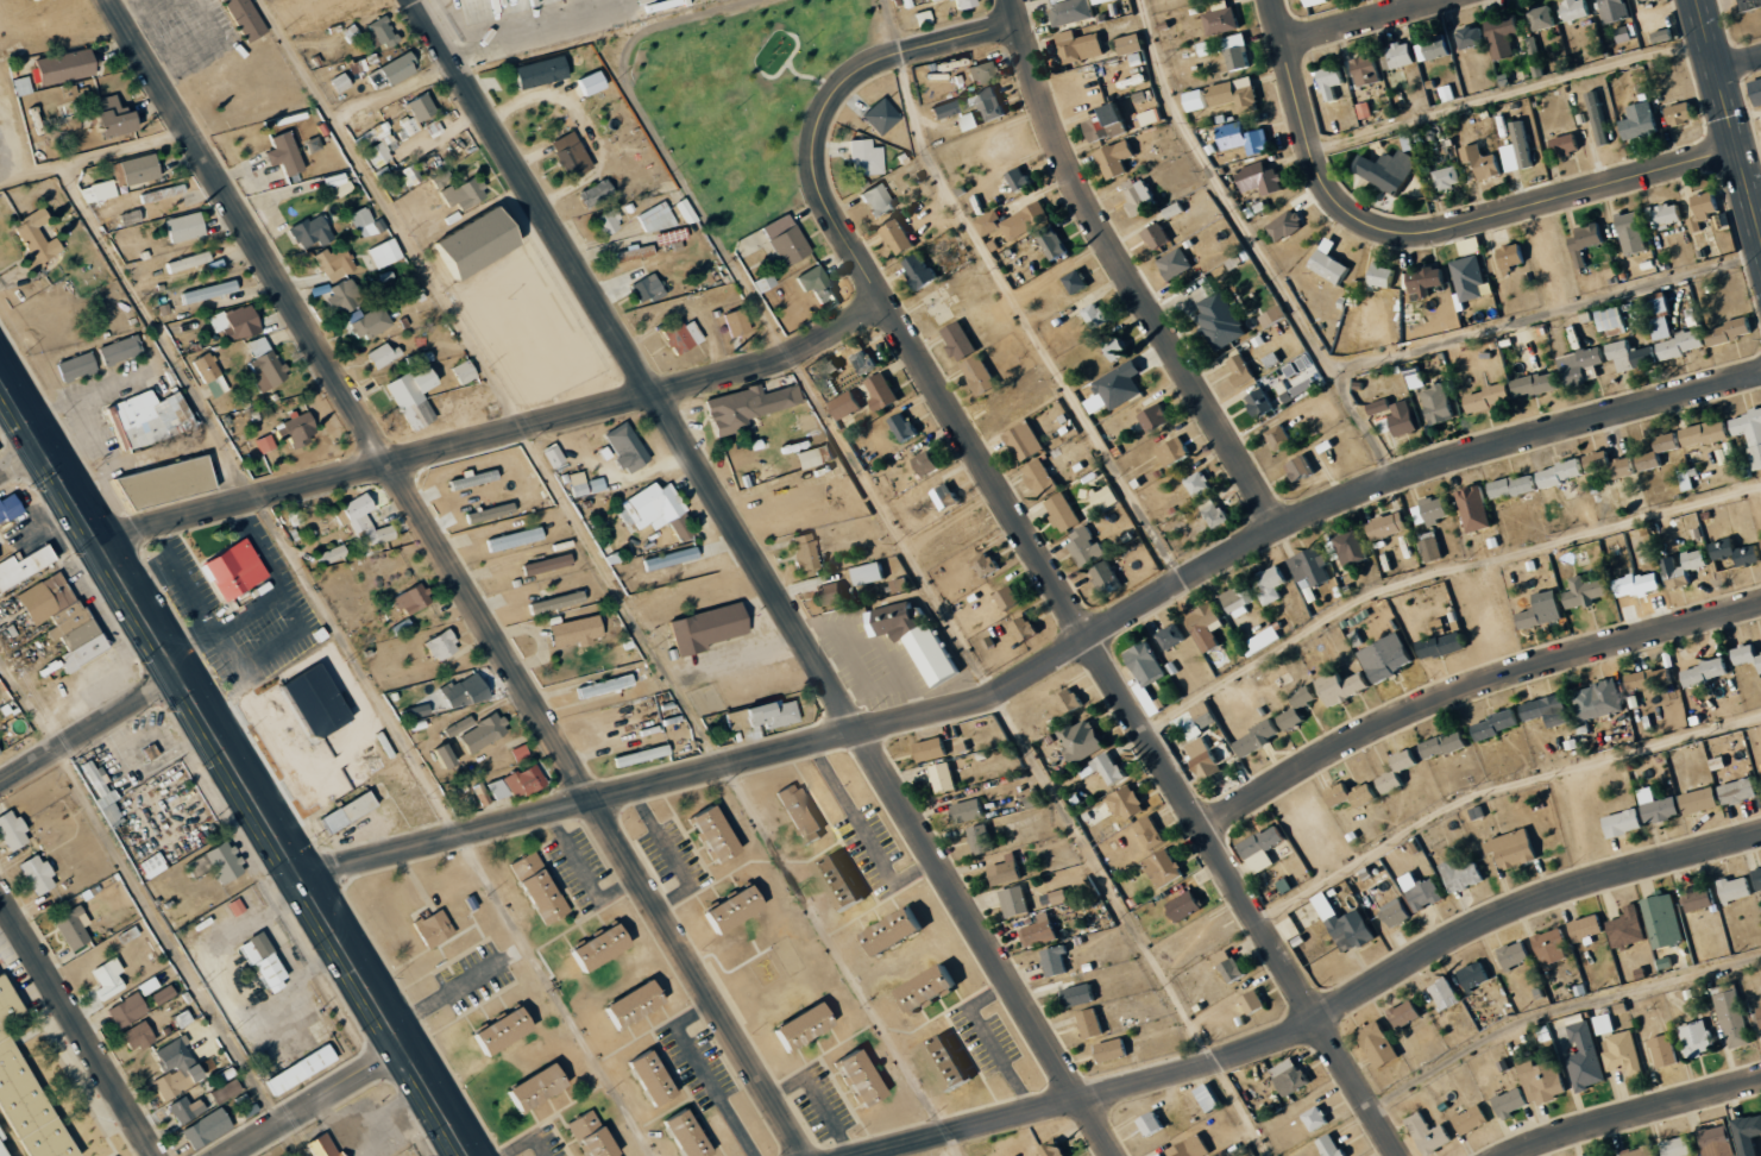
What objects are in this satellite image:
building: (36, 0)
building: (935, 0)
building: (540, 1)
building: (1103, 1)
building: (1646, 1)
building: (1317, 2)
building: (966, 4)
building: (1750, 5)
road: (610, 6)
building: (484, 8)
building: (1577, 10)
building: (1070, 11)
building: (1616, 11)
building: (923, 18)
building: (1222, 18)
building: (1543, 18)
building: (244, 19)
road: (1276, 21)
road: (1359, 21)
building: (383, 32)
building: (1627, 32)
road: (524, 34)
building: (1665, 34)
building: (1472, 37)
building: (1505, 37)
building: (1132, 44)
building: (1080, 46)
building: (1533, 46)
building: (1206, 49)
building: (1435, 49)
building: (1238, 52)
building: (1404, 55)
road: (1738, 61)
building: (65, 67)
building: (398, 68)
building: (1369, 70)
building: (541, 73)
building: (981, 73)
building: (1334, 81)
building: (340, 82)
building: (592, 83)
building: (1755, 88)
building: (1237, 94)
park: (737, 96)
building: (1145, 96)
building: (1197, 100)
building: (988, 103)
building: (422, 108)
building: (944, 111)
building: (1366, 111)
building: (1683, 114)
road: (1729, 115)
building: (114, 117)
building: (881, 117)
building: (1151, 117)
building: (1599, 119)
building: (1642, 121)
building: (1107, 124)
building: (408, 126)
building: (1612, 127)
building: (1245, 138)
building: (313, 144)
building: (377, 144)
building: (1523, 145)
building: (1567, 145)
building: (284, 153)
building: (571, 156)
building: (864, 158)
building: (1117, 159)
building: (1483, 162)
building: (136, 170)
building: (1389, 170)
building: (410, 175)
building: (441, 178)
building: (1263, 178)
building: (1449, 178)
building: (1020, 180)
building: (339, 183)
building: (99, 191)
building: (596, 193)
building: (464, 194)
building: (1141, 197)
building: (181, 201)
building: (878, 201)
building: (1705, 211)
building: (1671, 215)
building: (130, 218)
building: (655, 218)
building: (364, 221)
building: (1027, 221)
building: (608, 222)
building: (990, 224)
road: (1454, 225)
building: (1287, 226)
building: (185, 227)
building: (310, 232)
building: (1634, 233)
building: (1158, 237)
building: (667, 238)
building: (899, 238)
building: (37, 239)
building: (786, 240)
building: (479, 243)
building: (1587, 243)
road: (1252, 244)
building: (1056, 246)
building: (384, 253)
building: (634, 253)
building: (1512, 257)
building: (189, 262)
building: (334, 263)
building: (1176, 263)
building: (1331, 263)
building: (920, 271)
road: (1126, 271)
building: (1384, 276)
building: (1471, 278)
building: (1428, 279)
building: (1077, 282)
building: (765, 283)
building: (816, 283)
building: (647, 289)
building: (209, 291)
building: (344, 296)
building: (1660, 304)
building: (1096, 315)
building: (1275, 316)
building: (1612, 319)
building: (1221, 320)
building: (235, 322)
building: (370, 323)
building: (737, 323)
road: (1025, 325)
building: (1662, 328)
building: (1731, 332)
building: (683, 337)
building: (961, 341)
building: (1683, 345)
building: (258, 346)
building: (1119, 350)
building: (120, 351)
building: (383, 354)
building: (1633, 356)
building: (863, 362)
building: (1583, 365)
building: (76, 366)
building: (1301, 367)
building: (1243, 370)
building: (266, 371)
building: (464, 372)
building: (209, 375)
building: (981, 375)
building: (1417, 381)
building: (1537, 384)
building: (1121, 385)
building: (882, 391)
building: (414, 397)
building: (1489, 398)
building: (847, 404)
building: (1440, 404)
building: (748, 407)
building: (1381, 407)
building: (149, 419)
building: (1156, 419)
building: (1398, 420)
building: (904, 427)
building: (297, 429)
building: (1750, 431)
building: (1707, 433)
road: (495, 435)
building: (1281, 438)
building: (1669, 441)
building: (1027, 442)
building: (265, 444)
building: (627, 447)
building: (1175, 452)
building: (553, 456)
building: (812, 457)
building: (1652, 460)
road: (21, 461)
building: (927, 463)
building: (1612, 465)
building: (1301, 470)
building: (1564, 472)
building: (1042, 477)
building: (473, 479)
building: (1686, 479)
building: (168, 483)
building: (578, 483)
building: (1199, 484)
building: (1515, 486)
building: (946, 496)
building: (1106, 500)
building: (10, 505)
building: (650, 507)
building: (1476, 508)
building: (1432, 510)
building: (491, 511)
building: (1064, 513)
building: (1218, 515)
building: (366, 520)
building: (1389, 524)
building: (681, 529)
building: (515, 538)
building: (1408, 546)
building: (1087, 547)
building: (1348, 547)
building: (1432, 549)
building: (805, 551)
road: (1030, 551)
building: (1737, 552)
building: (333, 553)
building: (671, 558)
building: (548, 564)
building: (986, 564)
building: (24, 565)
building: (1313, 567)
building: (1686, 567)
building: (234, 570)
building: (869, 573)
road: (1435, 574)
building: (1106, 576)
road: (460, 578)
road: (765, 578)
building: (1273, 584)
building: (1640, 584)
building: (1587, 591)
building: (829, 595)
building: (45, 597)
building: (1010, 597)
building: (413, 599)
building: (1240, 599)
building: (556, 602)
building: (1543, 610)
building: (707, 628)
building: (1026, 628)
building: (1208, 630)
building: (577, 632)
building: (76, 635)
building: (1172, 636)
building: (917, 639)
building: (1263, 640)
building: (1444, 646)
building: (444, 647)
building: (1748, 654)
building: (1389, 658)
road: (1048, 666)
building: (1707, 672)
building: (1147, 673)
building: (1652, 678)
building: (605, 685)
building: (1344, 686)
road: (1468, 689)
building: (465, 692)
building: (1306, 697)
building: (1600, 699)
building: (1070, 700)
road: (1000, 708)
building: (417, 710)
building: (1549, 710)
building: (774, 714)
building: (737, 718)
building: (1294, 718)
building: (1197, 720)
building: (1498, 724)
building: (459, 725)
road: (89, 729)
building: (484, 733)
building: (1259, 737)
building: (1083, 739)
building: (1446, 745)
building: (932, 749)
building: (1221, 749)
building: (151, 752)
building: (520, 752)
building: (0, 753)
building: (446, 755)
building: (1206, 759)
road: (233, 765)
building: (1109, 768)
building: (1400, 771)
building: (944, 778)
building: (526, 779)
building: (498, 789)
road: (1496, 789)
building: (1741, 791)
building: (1353, 794)
building: (103, 797)
building: (1702, 800)
building: (1128, 804)
building: (1659, 806)
building: (969, 810)
building: (350, 811)
building: (1098, 812)
building: (801, 813)
building: (1624, 823)
building: (12, 830)
building: (1151, 833)
building: (716, 834)
building: (981, 840)
building: (1268, 848)
building: (1514, 848)
building: (218, 863)
building: (524, 863)
building: (1165, 868)
building: (1007, 871)
building: (38, 875)
building: (1463, 875)
building: (1759, 877)
building: (842, 882)
building: (1736, 888)
building: (1423, 892)
building: (545, 897)
building: (1061, 897)
building: (1700, 898)
building: (1015, 901)
building: (1187, 905)
building: (735, 910)
building: (1397, 912)
building: (1306, 915)
building: (1663, 921)
building: (1347, 924)
building: (1586, 926)
building: (1628, 926)
building: (71, 928)
building: (434, 928)
building: (898, 931)
building: (1040, 931)
building: (1552, 945)
building: (603, 947)
building: (1516, 954)
building: (1056, 960)
building: (264, 962)
building: (1232, 966)
building: (1474, 975)
building: (108, 978)
building: (147, 986)
building: (930, 989)
building: (1446, 993)
building: (163, 994)
road: (554, 995)
building: (1080, 995)
building: (1254, 1003)
building: (636, 1004)
building: (6, 1007)
building: (127, 1010)
road: (1556, 1010)
building: (1760, 1012)
building: (1407, 1013)
road: (1321, 1017)
building: (1734, 1018)
building: (1090, 1023)
building: (1605, 1023)
road: (80, 1024)
building: (804, 1026)
building: (503, 1031)
building: (137, 1036)
building: (1697, 1038)
building: (1381, 1043)
building: (1113, 1050)
building: (1665, 1050)
building: (1623, 1053)
building: (1586, 1057)
building: (950, 1064)
building: (175, 1068)
building: (301, 1069)
building: (1291, 1075)
building: (654, 1079)
building: (862, 1079)
building: (1543, 1080)
building: (537, 1088)
building: (225, 1092)
building: (1210, 1097)
building: (1512, 1101)
road: (317, 1102)
building: (185, 1110)
building: (26, 1113)
road: (1635, 1113)
building: (1317, 1118)
building: (1472, 1118)
building: (1152, 1123)
building: (583, 1124)
building: (207, 1129)
building: (688, 1133)
building: (1430, 1133)
building: (1749, 1133)
building: (1717, 1141)
building: (599, 1144)
building: (323, 1145)
road: (949, 1145)
building: (1333, 1145)
building: (1679, 1146)
building: (4, 1148)
building: (1191, 1148)
building: (1056, 1149)
building: (1641, 1151)
building: (1610, 1155)

